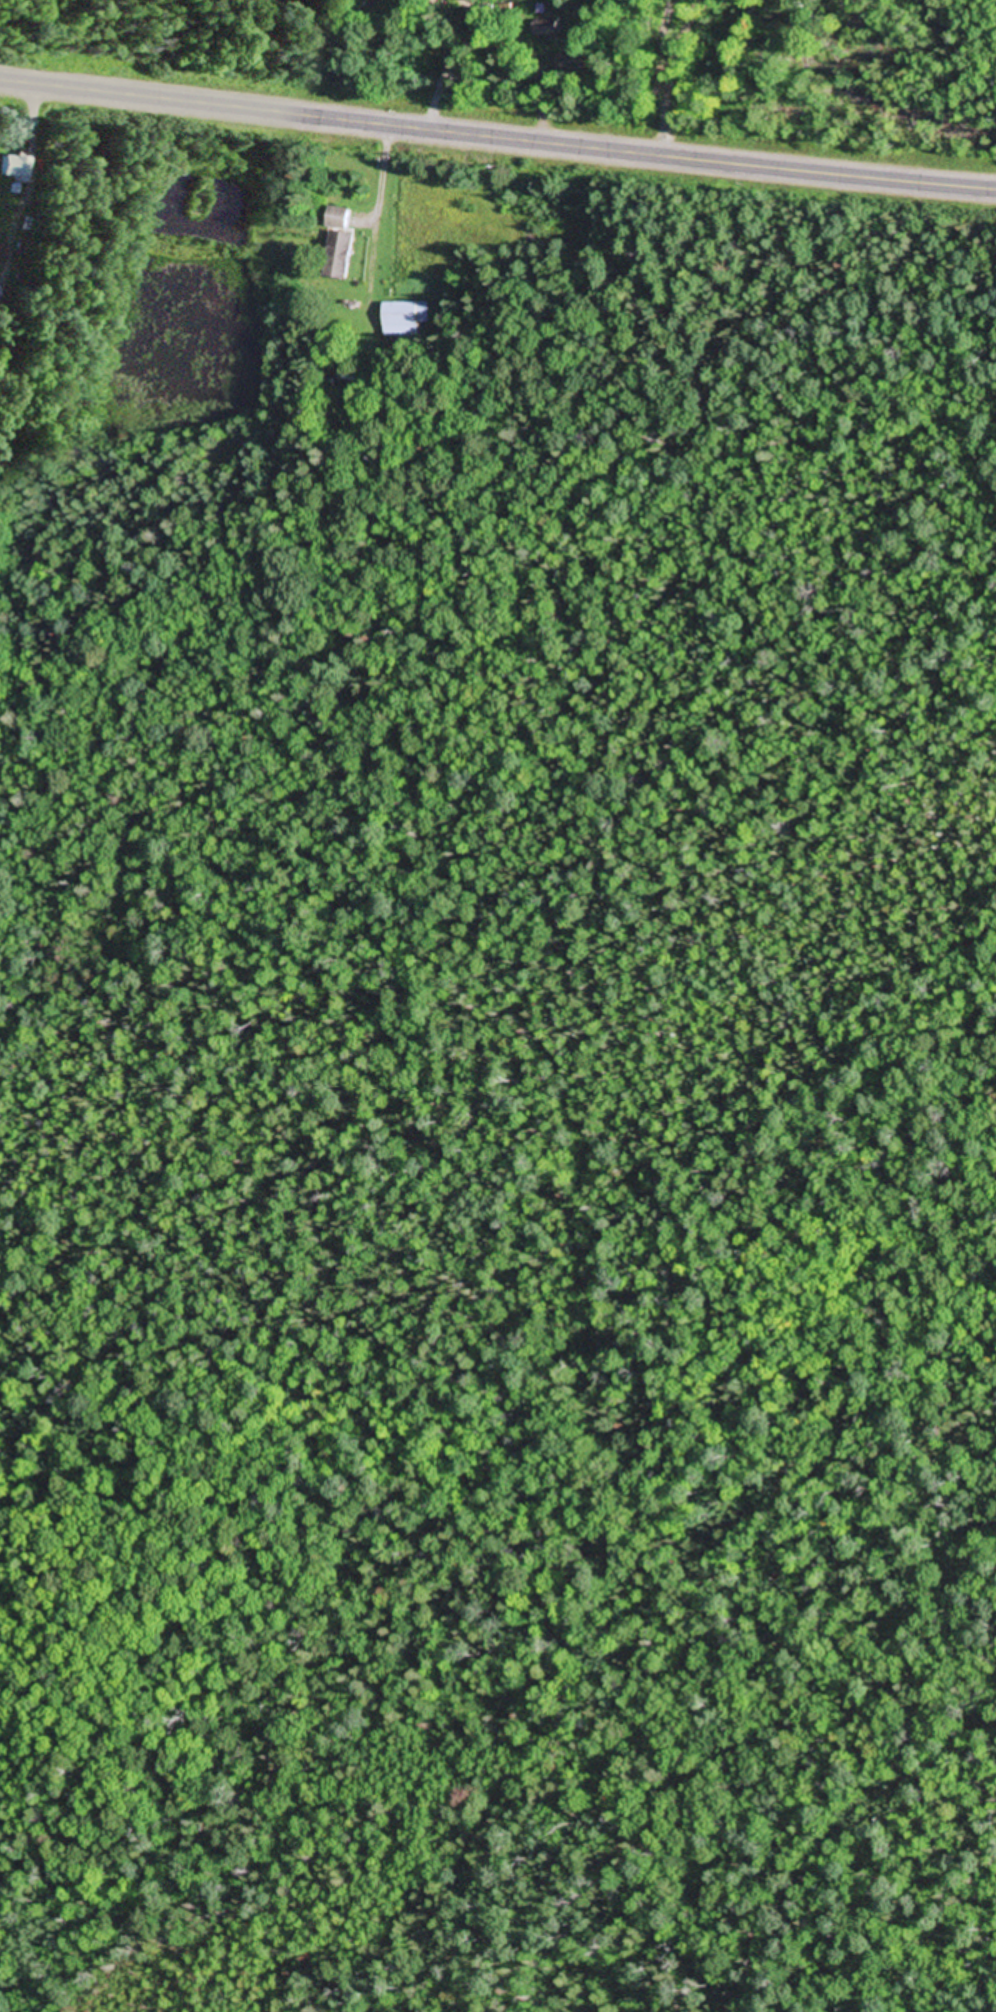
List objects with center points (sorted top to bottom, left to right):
building: (551, 28)
building: (575, 63)
road: (497, 129)
building: (11, 168)
building: (26, 226)
building: (341, 245)
building: (406, 319)

